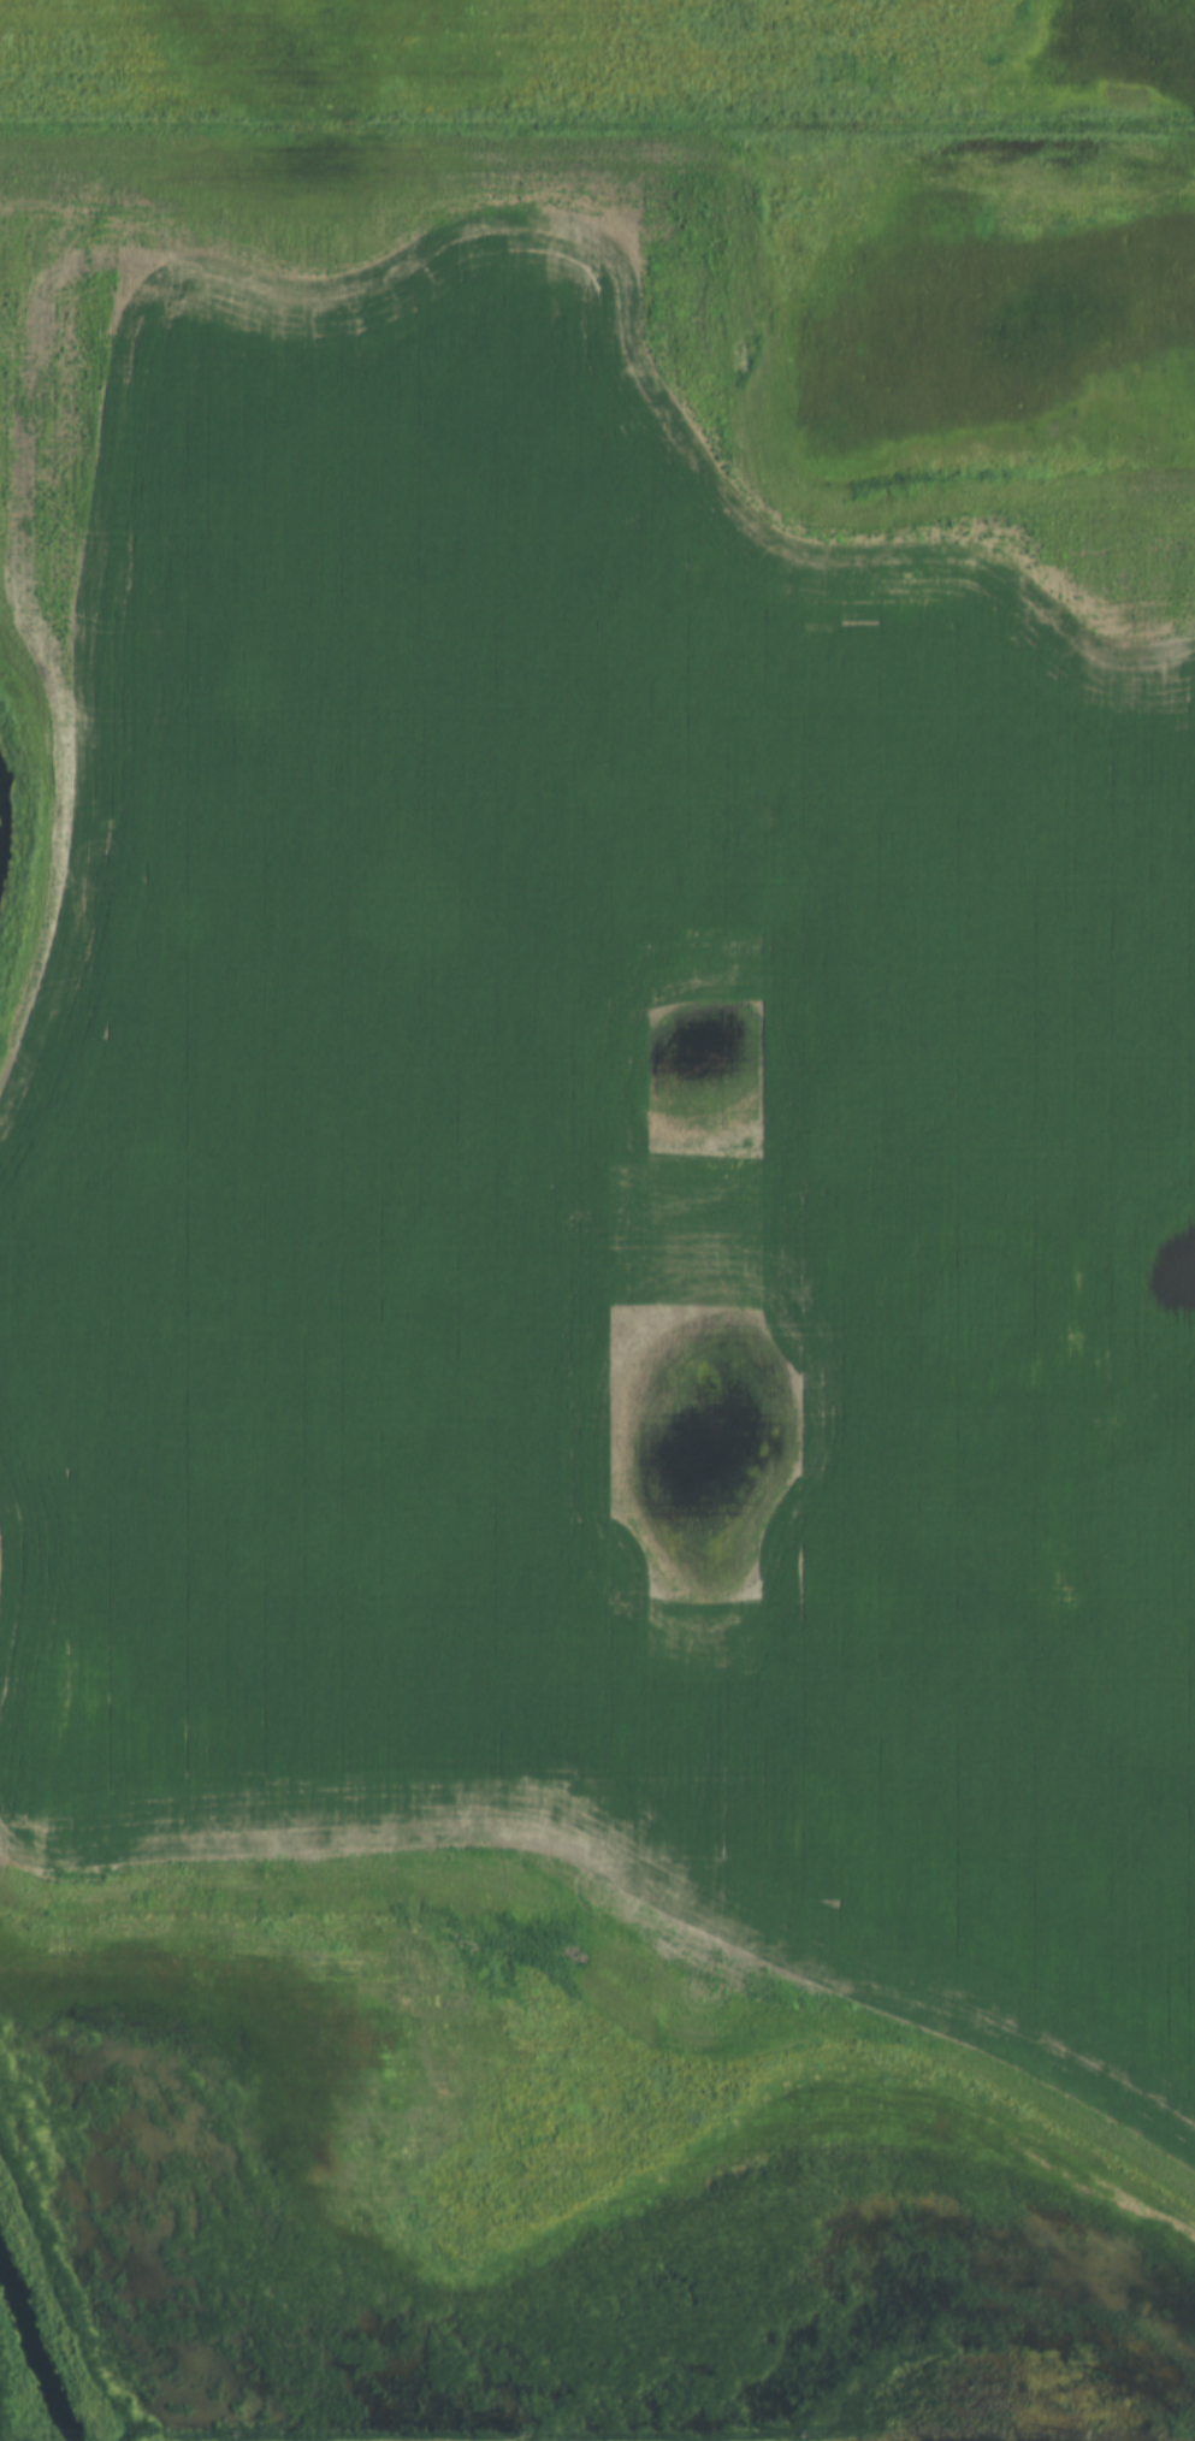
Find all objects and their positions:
crop: (597, 58)
crop: (596, 1171)

